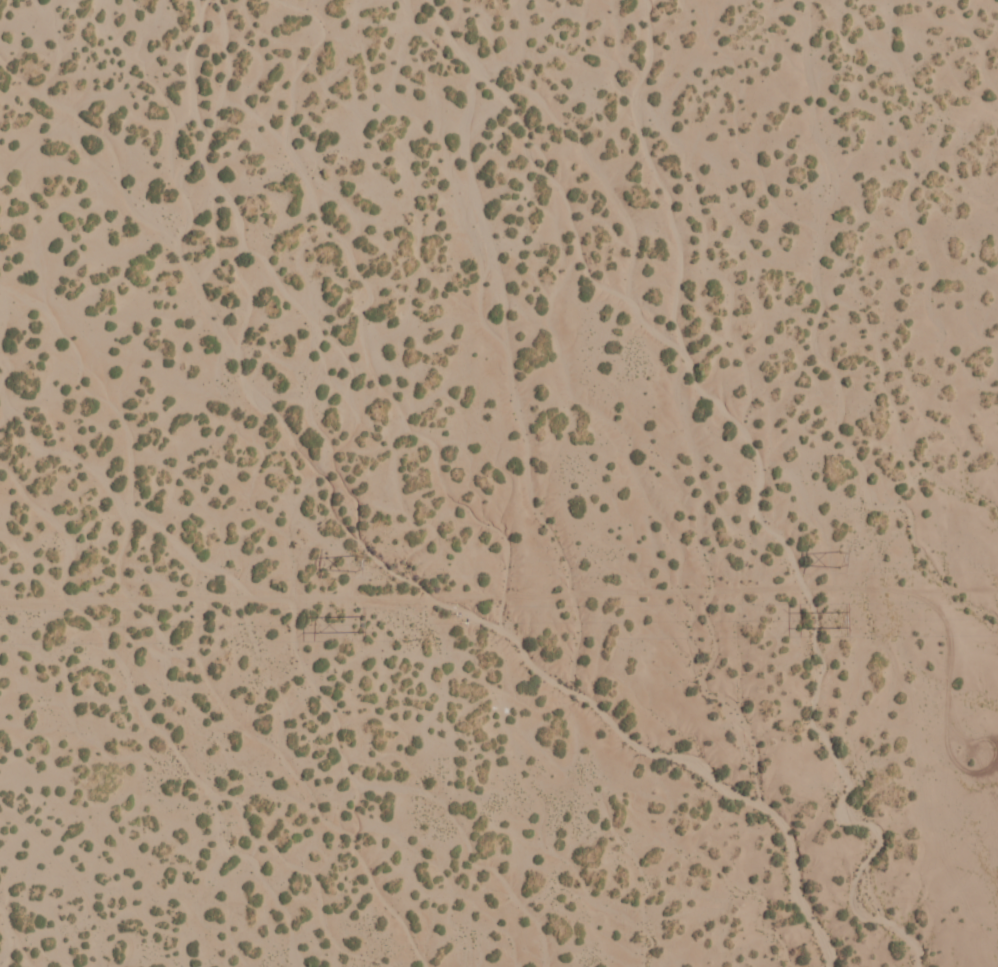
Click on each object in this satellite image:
power tower: (834, 558)
power tower: (351, 563)
power tower: (837, 619)
power tower: (351, 622)

